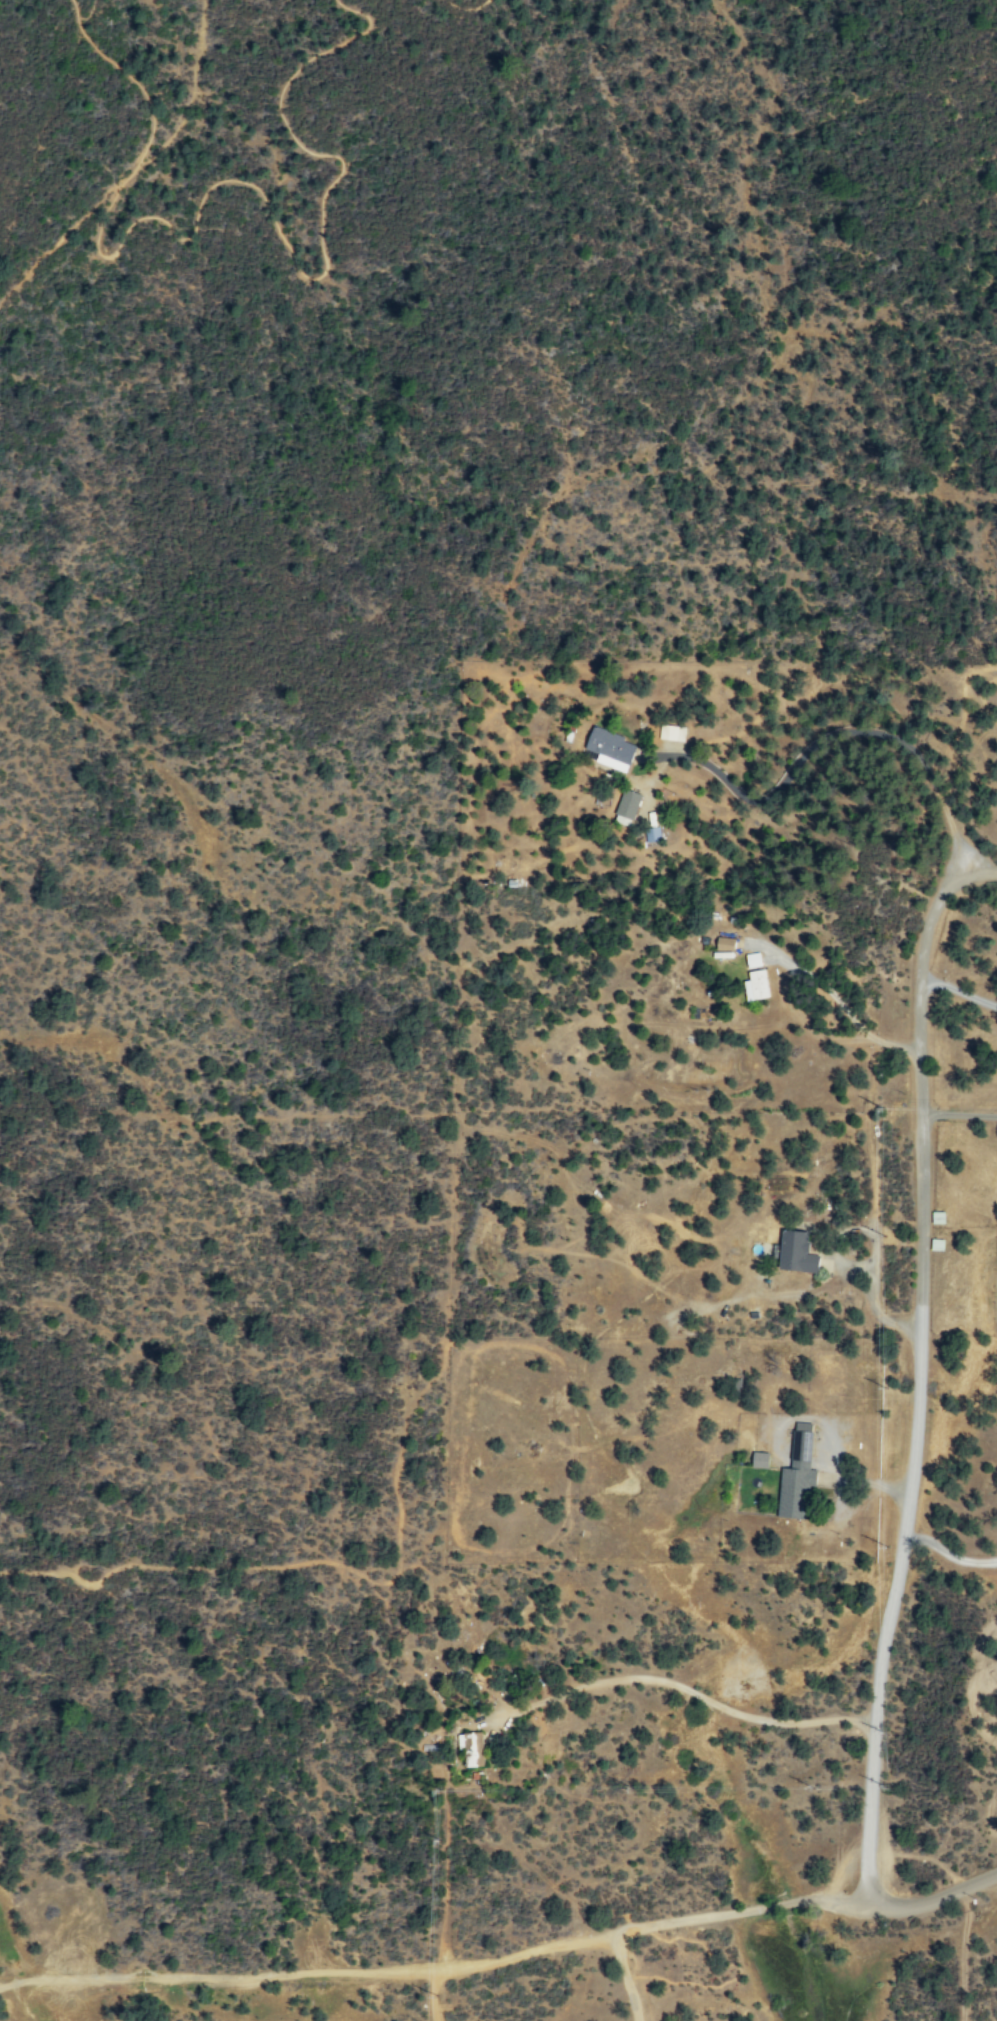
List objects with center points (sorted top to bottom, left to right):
road: (465, 8)
road: (137, 79)
road: (190, 95)
road: (64, 234)
road: (305, 269)
building: (672, 732)
road: (820, 739)
building: (611, 748)
building: (629, 803)
building: (653, 834)
road: (982, 868)
building: (726, 943)
building: (754, 959)
building: (757, 985)
road: (958, 990)
road: (841, 1005)
road: (959, 1113)
building: (939, 1217)
building: (938, 1244)
building: (797, 1252)
road: (918, 1377)
road: (833, 1457)
building: (762, 1459)
building: (799, 1475)
road: (862, 1483)
road: (948, 1553)
road: (335, 1562)
building: (473, 1748)
road: (444, 1886)
road: (934, 1898)
road: (739, 1911)
road: (307, 1971)
road: (626, 1978)
road: (433, 1994)

